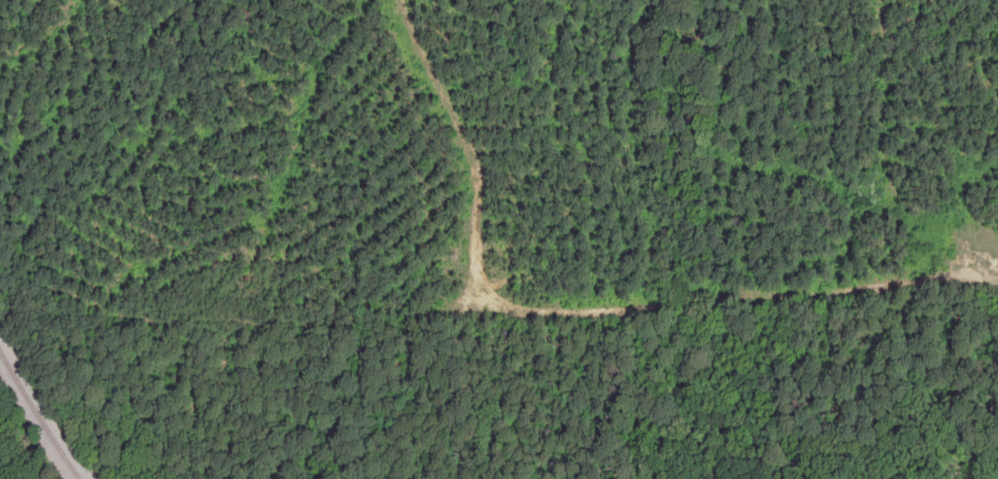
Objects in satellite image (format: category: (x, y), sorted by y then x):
railway: (39, 414)

